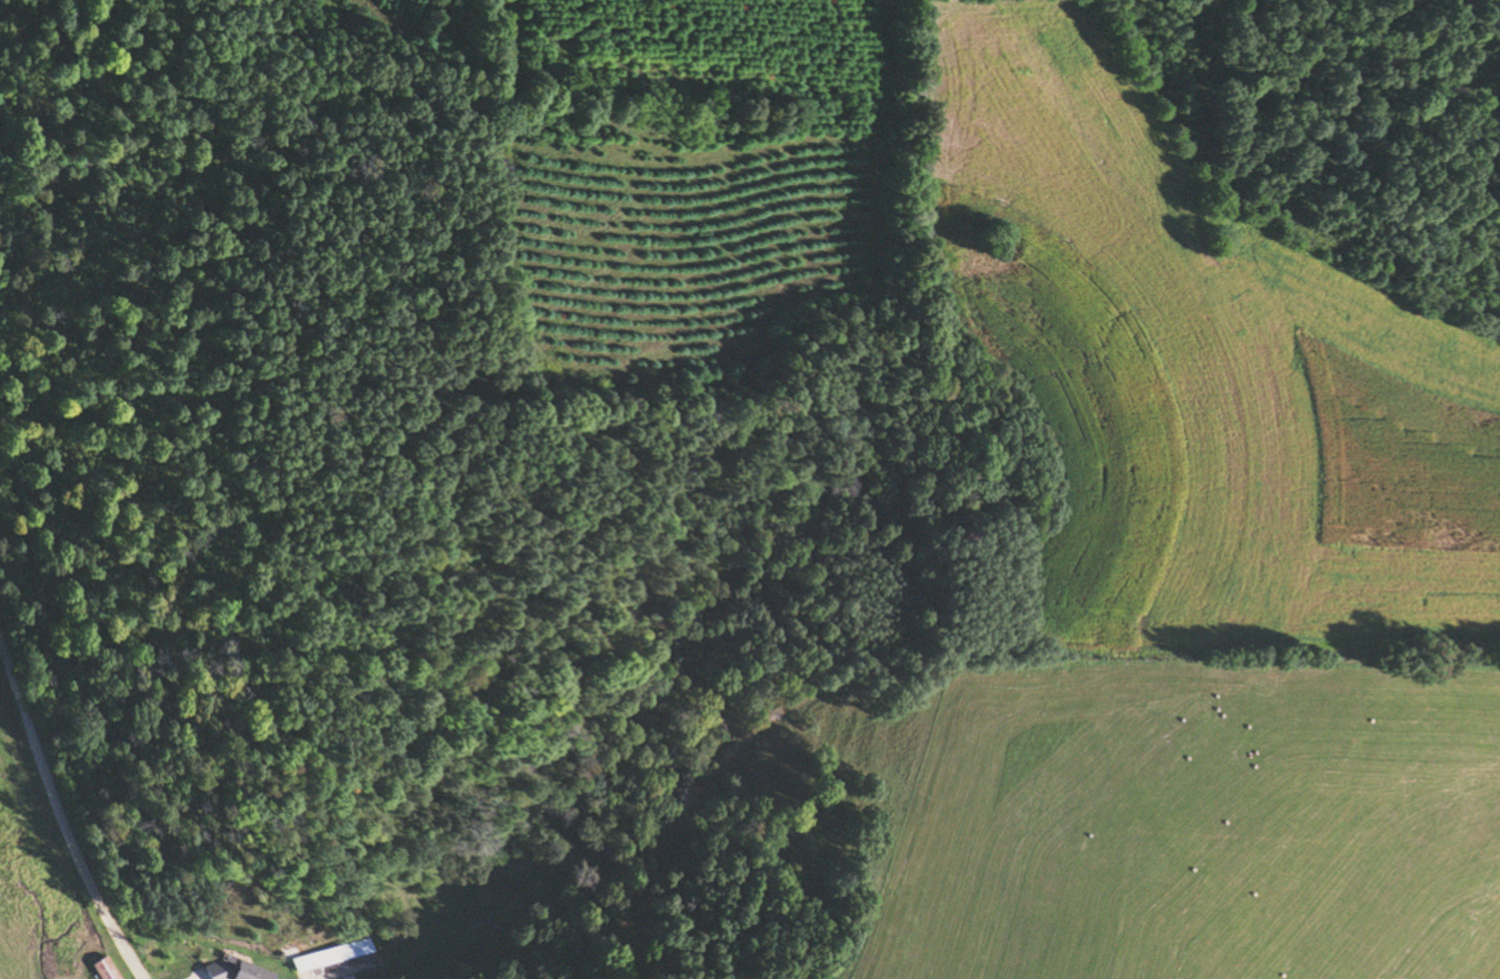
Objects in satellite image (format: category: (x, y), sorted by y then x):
crop: (406, 22)
crop: (681, 246)
crop: (1194, 377)
crop: (2, 659)
road: (63, 817)
crop: (1190, 822)
crop: (31, 858)
building: (335, 961)
building: (104, 969)
building: (234, 971)

